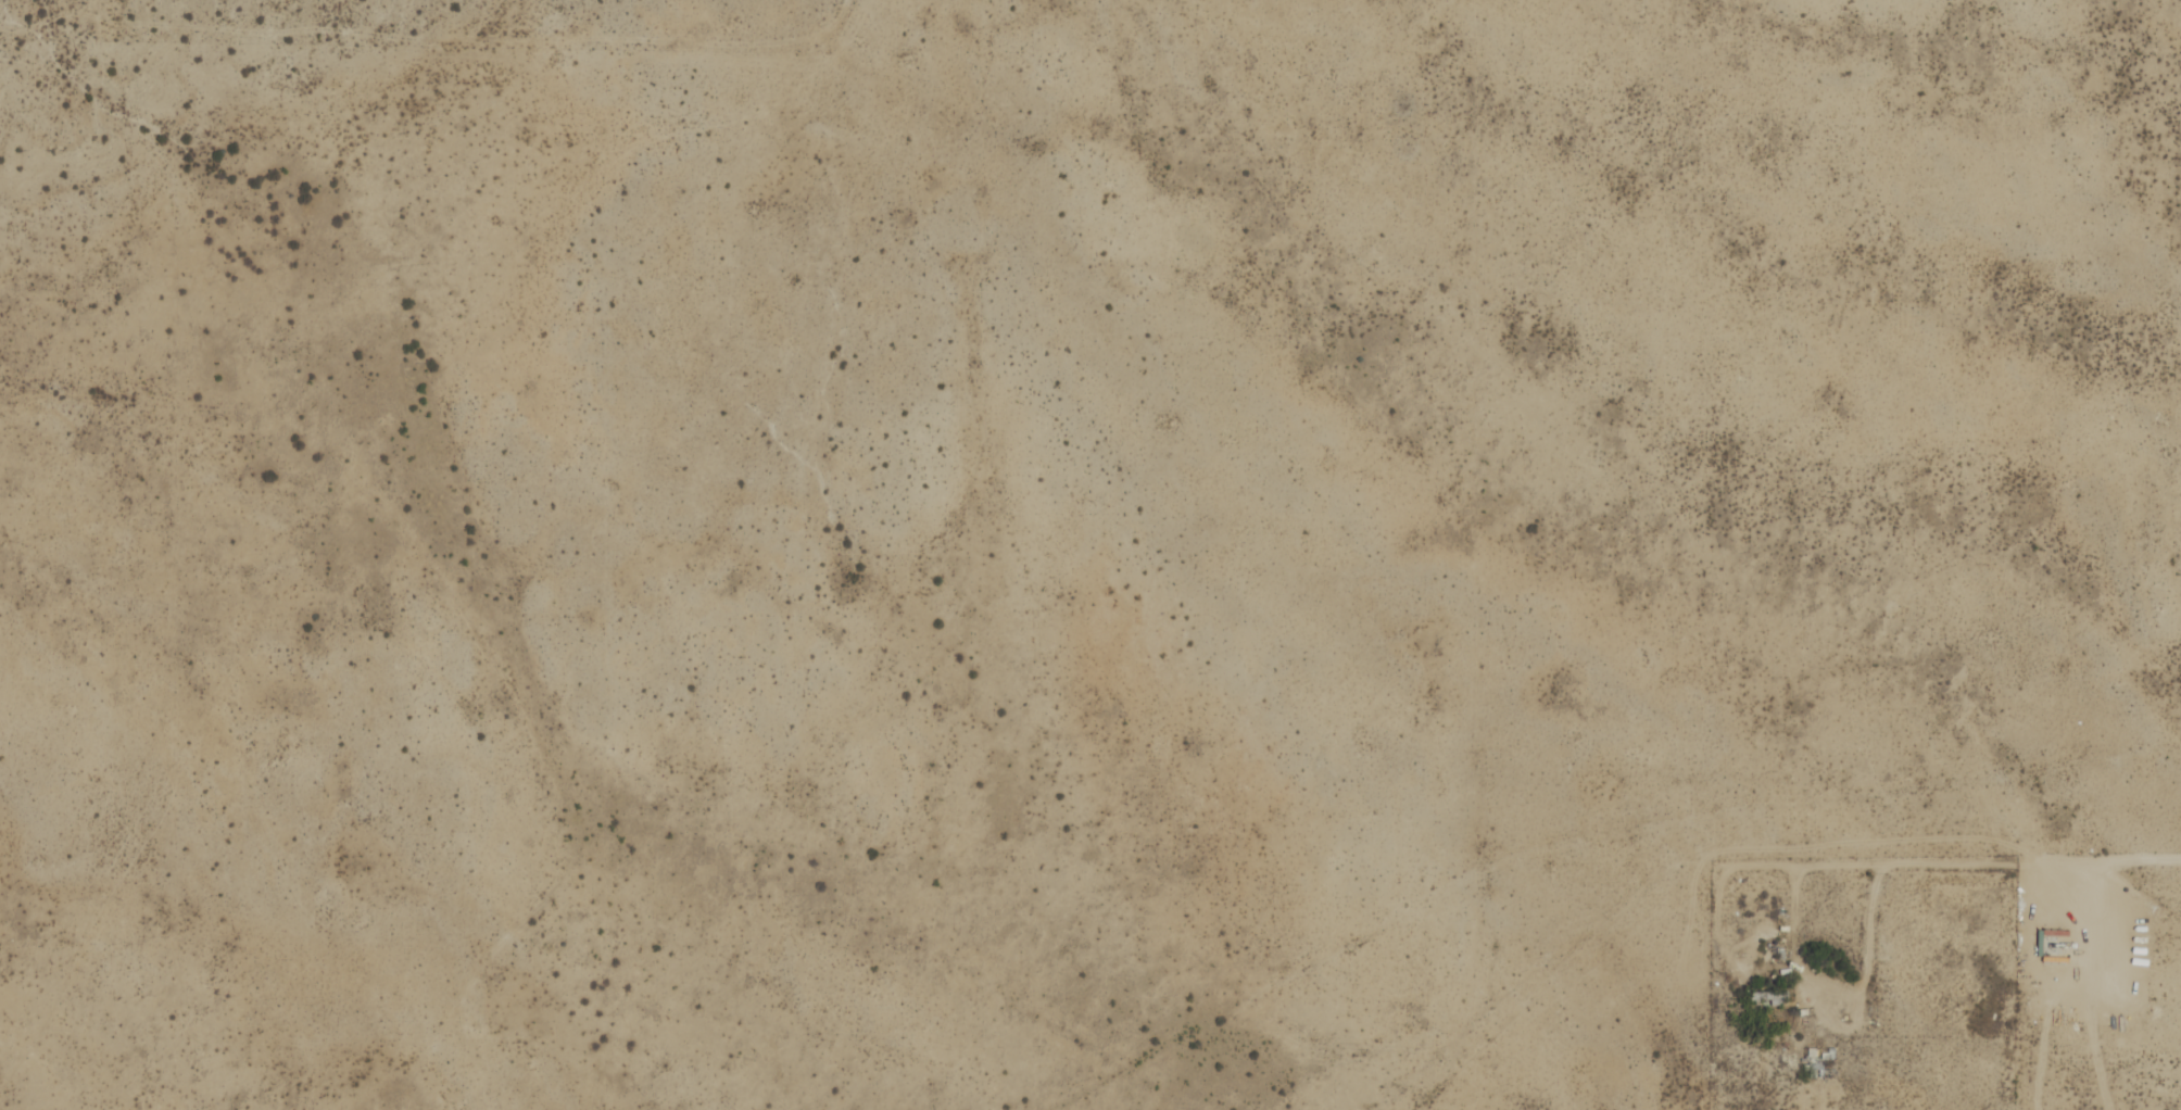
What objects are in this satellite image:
road: (1941, 865)

